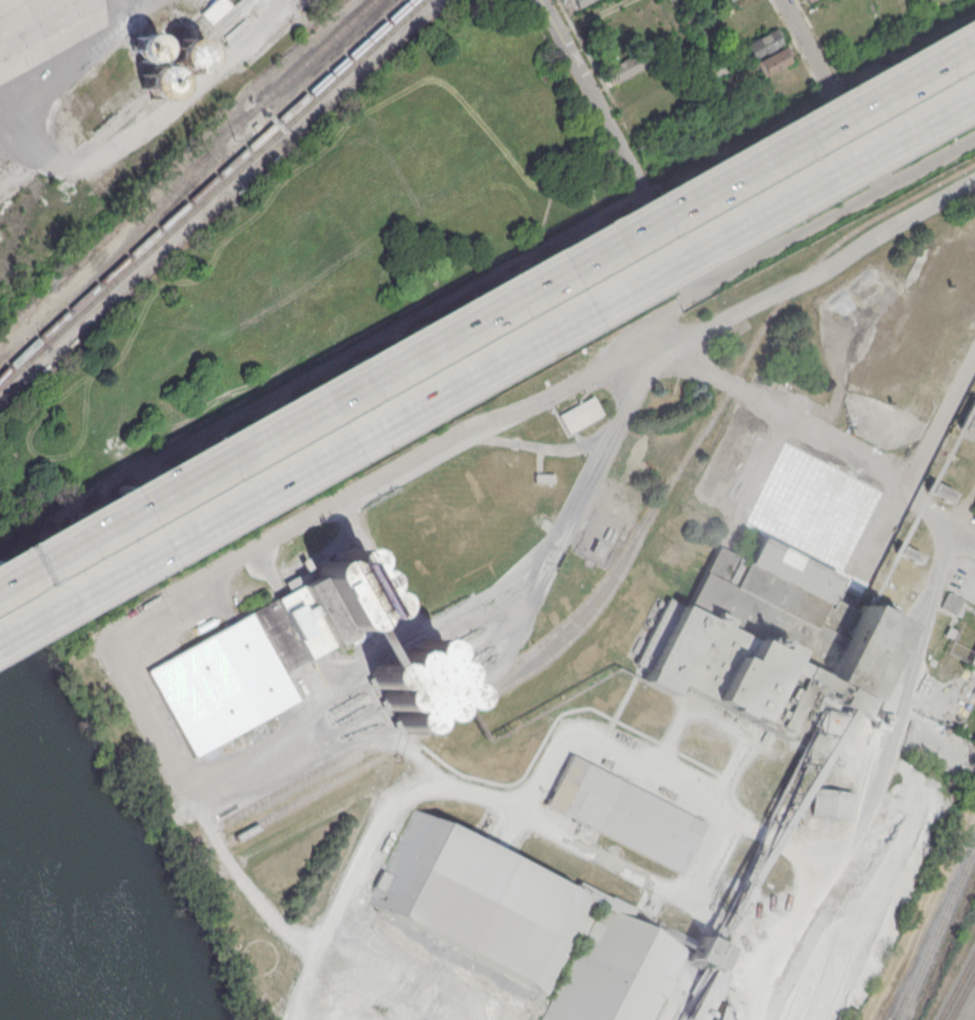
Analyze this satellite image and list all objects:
building: (728, 0)
building: (809, 0)
building: (579, 2)
building: (214, 9)
building: (761, 43)
building: (145, 46)
road: (695, 53)
building: (189, 54)
building: (772, 62)
building: (625, 66)
building: (716, 66)
building: (159, 80)
road: (832, 94)
road: (613, 136)
railway: (201, 159)
railway: (204, 186)
railway: (212, 192)
road: (828, 216)
park: (321, 253)
road: (827, 269)
road: (487, 308)
railway: (21, 353)
road: (487, 366)
building: (583, 413)
railway: (708, 417)
road: (943, 418)
building: (968, 420)
road: (580, 449)
building: (543, 477)
building: (939, 492)
road: (782, 531)
building: (908, 554)
building: (950, 602)
building: (763, 637)
building: (262, 652)
building: (972, 658)
building: (415, 685)
railway: (475, 703)
road: (402, 797)
building: (830, 802)
building: (624, 813)
road: (633, 872)
river: (57, 911)
building: (526, 924)
railway: (936, 929)
railway: (956, 986)
railway: (961, 996)
building: (710, 999)

